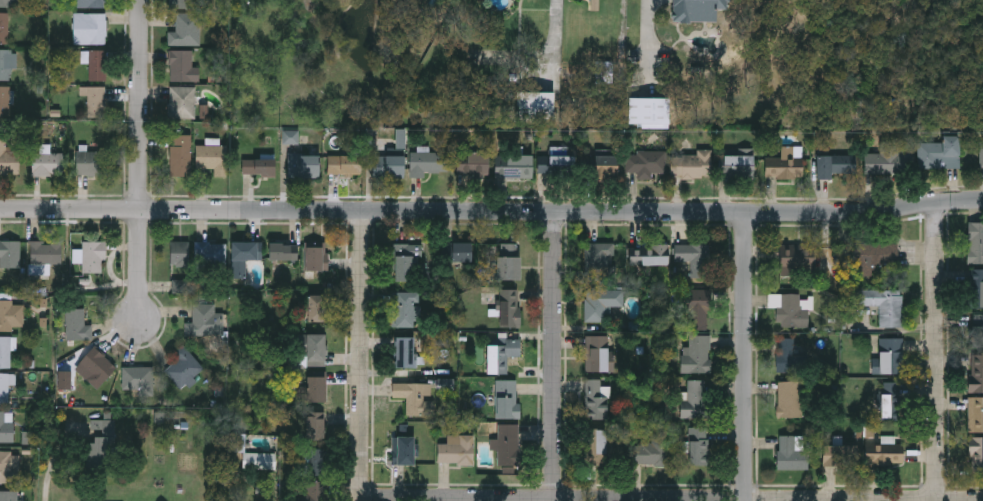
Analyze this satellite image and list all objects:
building: (8, 2)
building: (91, 3)
building: (182, 4)
building: (698, 10)
building: (4, 27)
building: (90, 27)
building: (186, 30)
road: (560, 31)
building: (95, 62)
building: (8, 63)
building: (182, 66)
building: (604, 72)
building: (5, 100)
building: (96, 100)
building: (182, 103)
building: (534, 105)
building: (648, 112)
building: (940, 153)
building: (982, 154)
building: (181, 156)
building: (8, 157)
road: (141, 159)
building: (212, 159)
building: (889, 161)
building: (91, 162)
building: (48, 163)
building: (427, 163)
building: (557, 163)
building: (644, 164)
building: (344, 165)
building: (690, 165)
building: (783, 165)
building: (303, 166)
building: (387, 166)
building: (513, 166)
building: (834, 166)
building: (473, 167)
building: (602, 167)
building: (736, 167)
building: (259, 168)
road: (491, 212)
building: (975, 242)
building: (46, 252)
building: (281, 252)
building: (459, 252)
building: (10, 254)
building: (179, 254)
building: (649, 255)
building: (315, 256)
building: (883, 256)
building: (93, 257)
building: (211, 257)
building: (243, 257)
building: (695, 259)
building: (507, 262)
building: (403, 263)
building: (598, 263)
building: (796, 266)
building: (975, 288)
building: (600, 303)
building: (882, 304)
building: (315, 308)
building: (507, 308)
building: (403, 309)
building: (696, 309)
building: (787, 309)
building: (11, 316)
building: (205, 321)
building: (74, 325)
building: (314, 350)
road: (939, 351)
building: (5, 352)
building: (404, 352)
building: (595, 354)
building: (696, 355)
building: (890, 355)
road: (364, 356)
road: (557, 356)
building: (788, 356)
road: (747, 357)
building: (497, 359)
building: (95, 367)
building: (183, 368)
building: (975, 373)
building: (138, 380)
building: (314, 390)
building: (413, 396)
building: (506, 398)
building: (595, 399)
building: (693, 399)
building: (789, 399)
building: (889, 399)
building: (975, 414)
building: (6, 426)
building: (314, 426)
building: (602, 442)
building: (507, 445)
building: (698, 446)
building: (455, 449)
building: (649, 450)
building: (99, 451)
building: (402, 451)
building: (791, 452)
building: (883, 452)
building: (838, 455)
building: (976, 456)
building: (259, 460)
building: (313, 461)
road: (57, 462)
building: (9, 466)
building: (314, 491)
building: (8, 496)
road: (651, 500)

